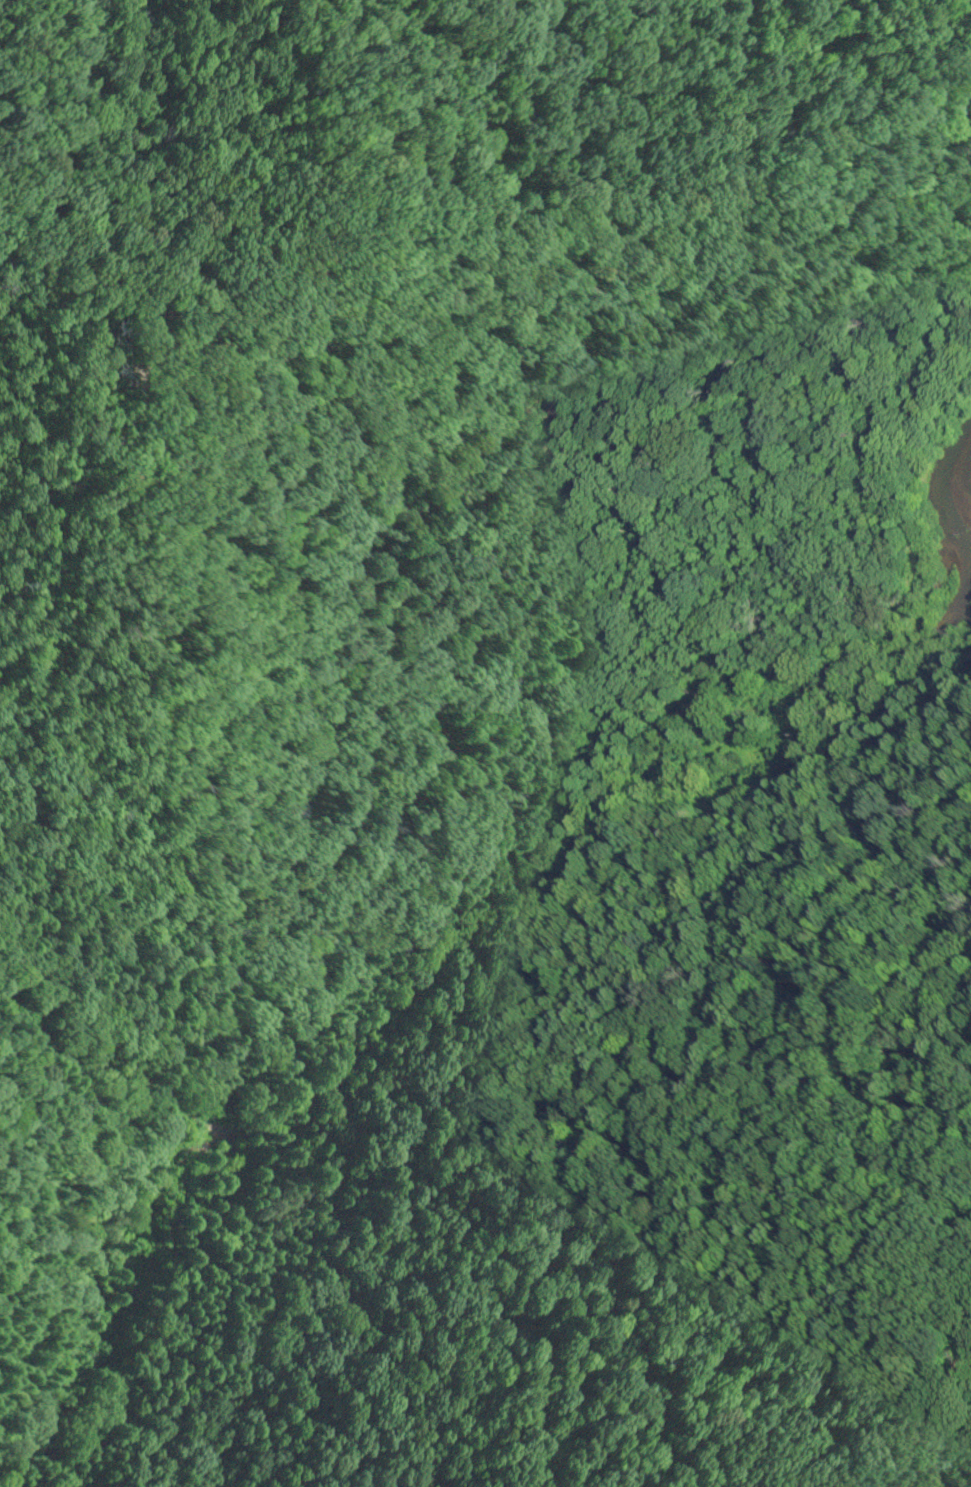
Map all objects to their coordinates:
road: (26, 1276)

